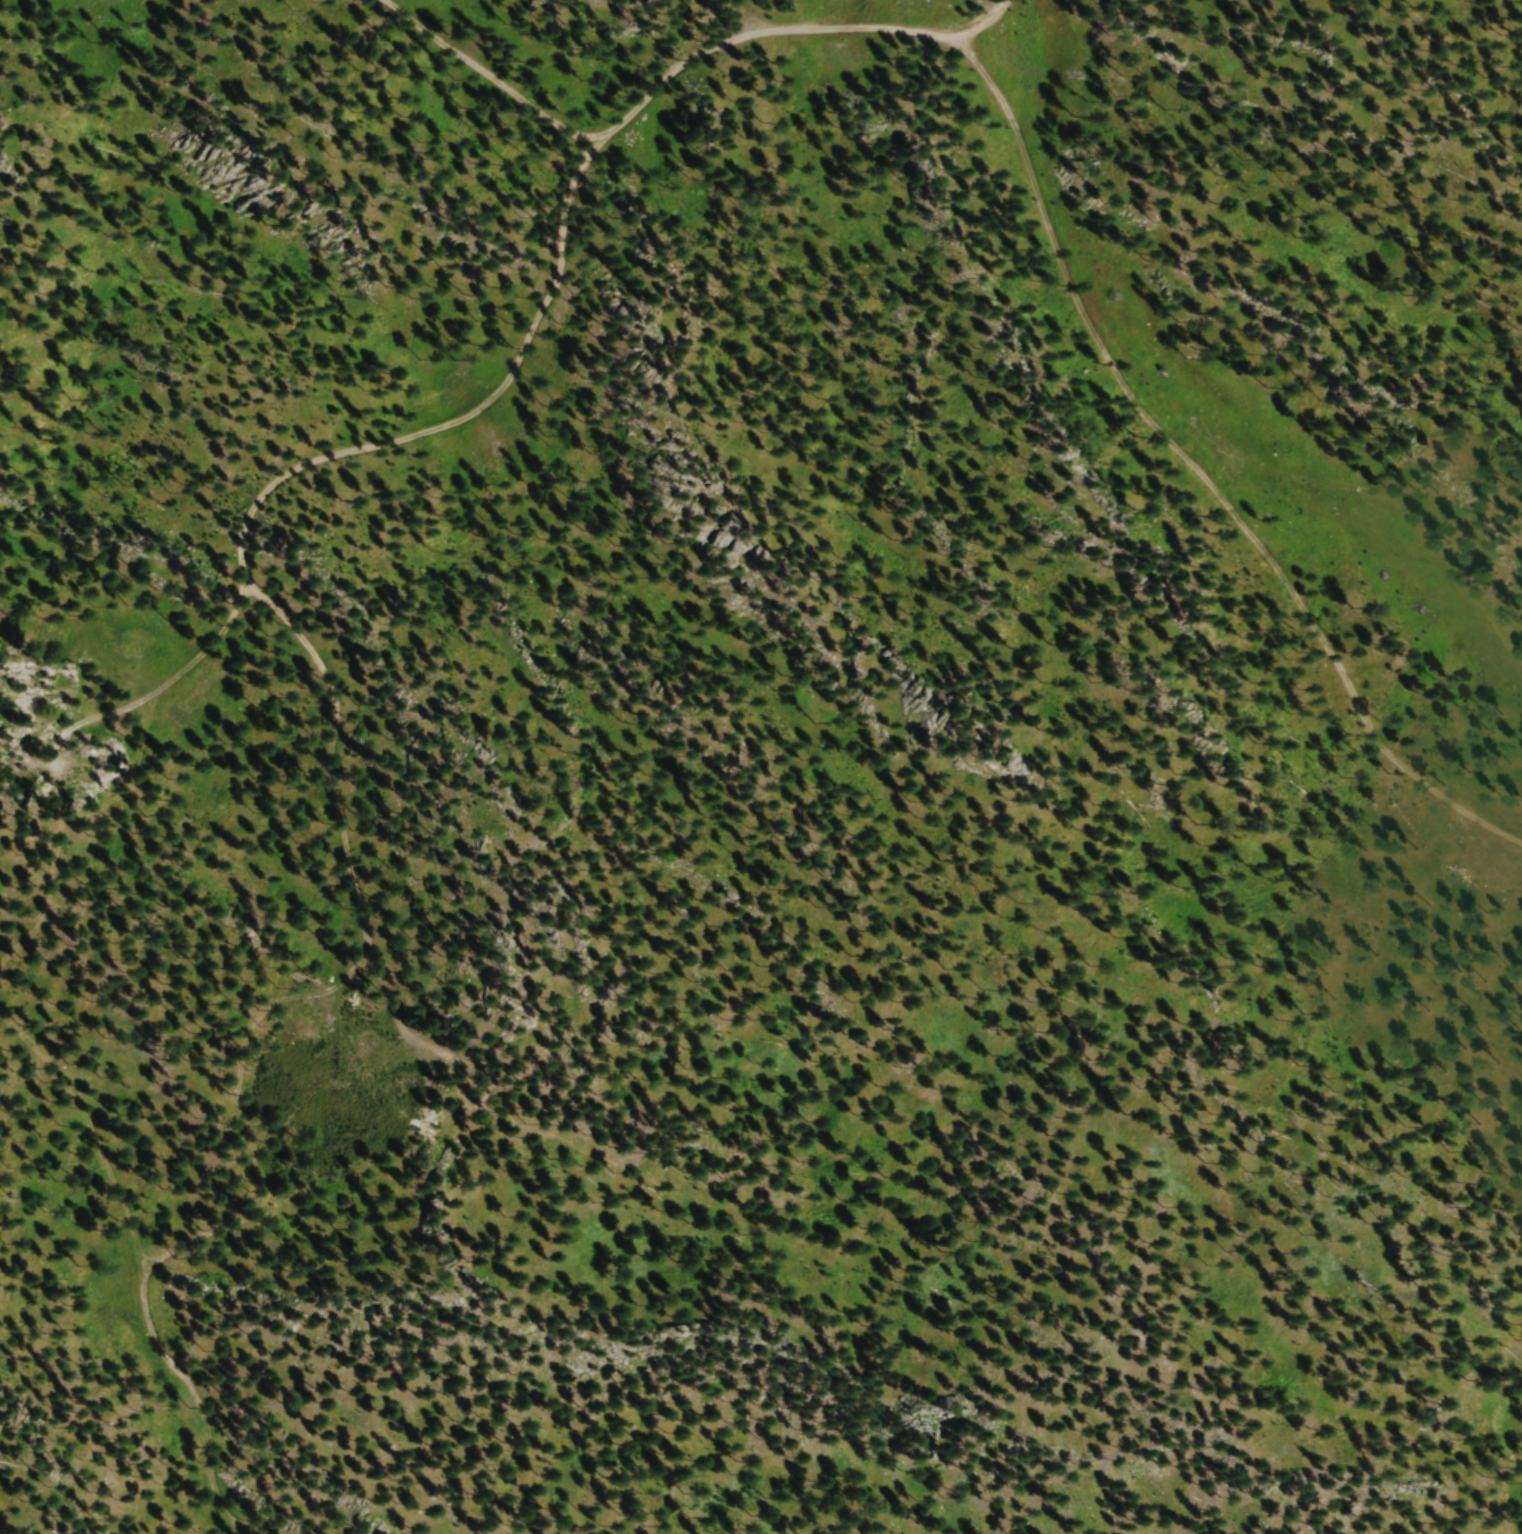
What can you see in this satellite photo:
road: (486, 73)
road: (1195, 472)
road: (273, 478)
mineshaft: (15, 705)
road: (142, 1273)

